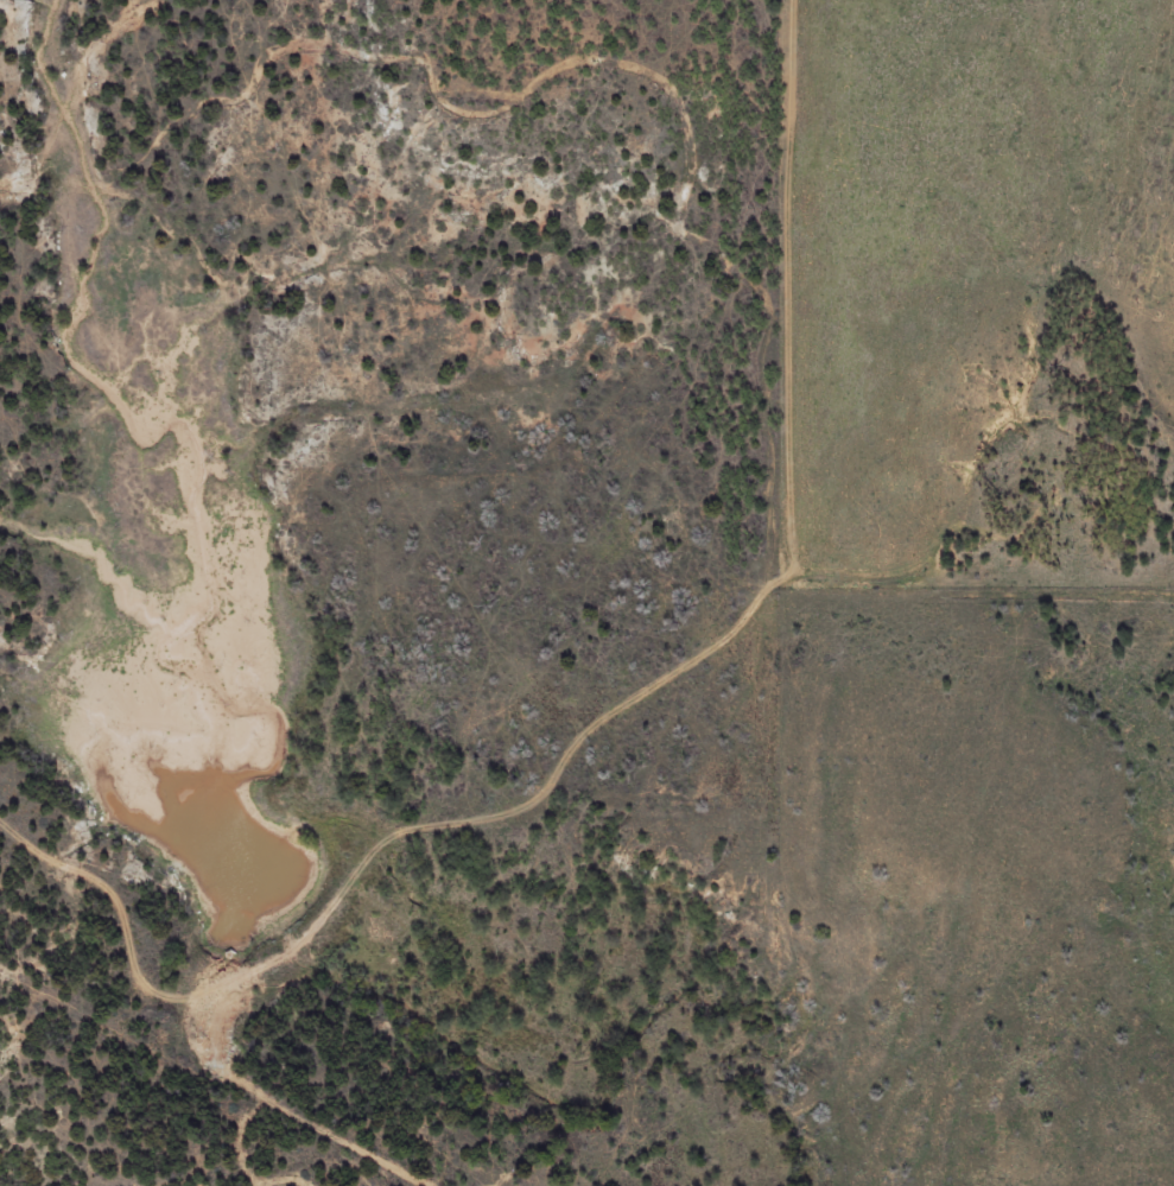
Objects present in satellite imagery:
road: (72, 90)

